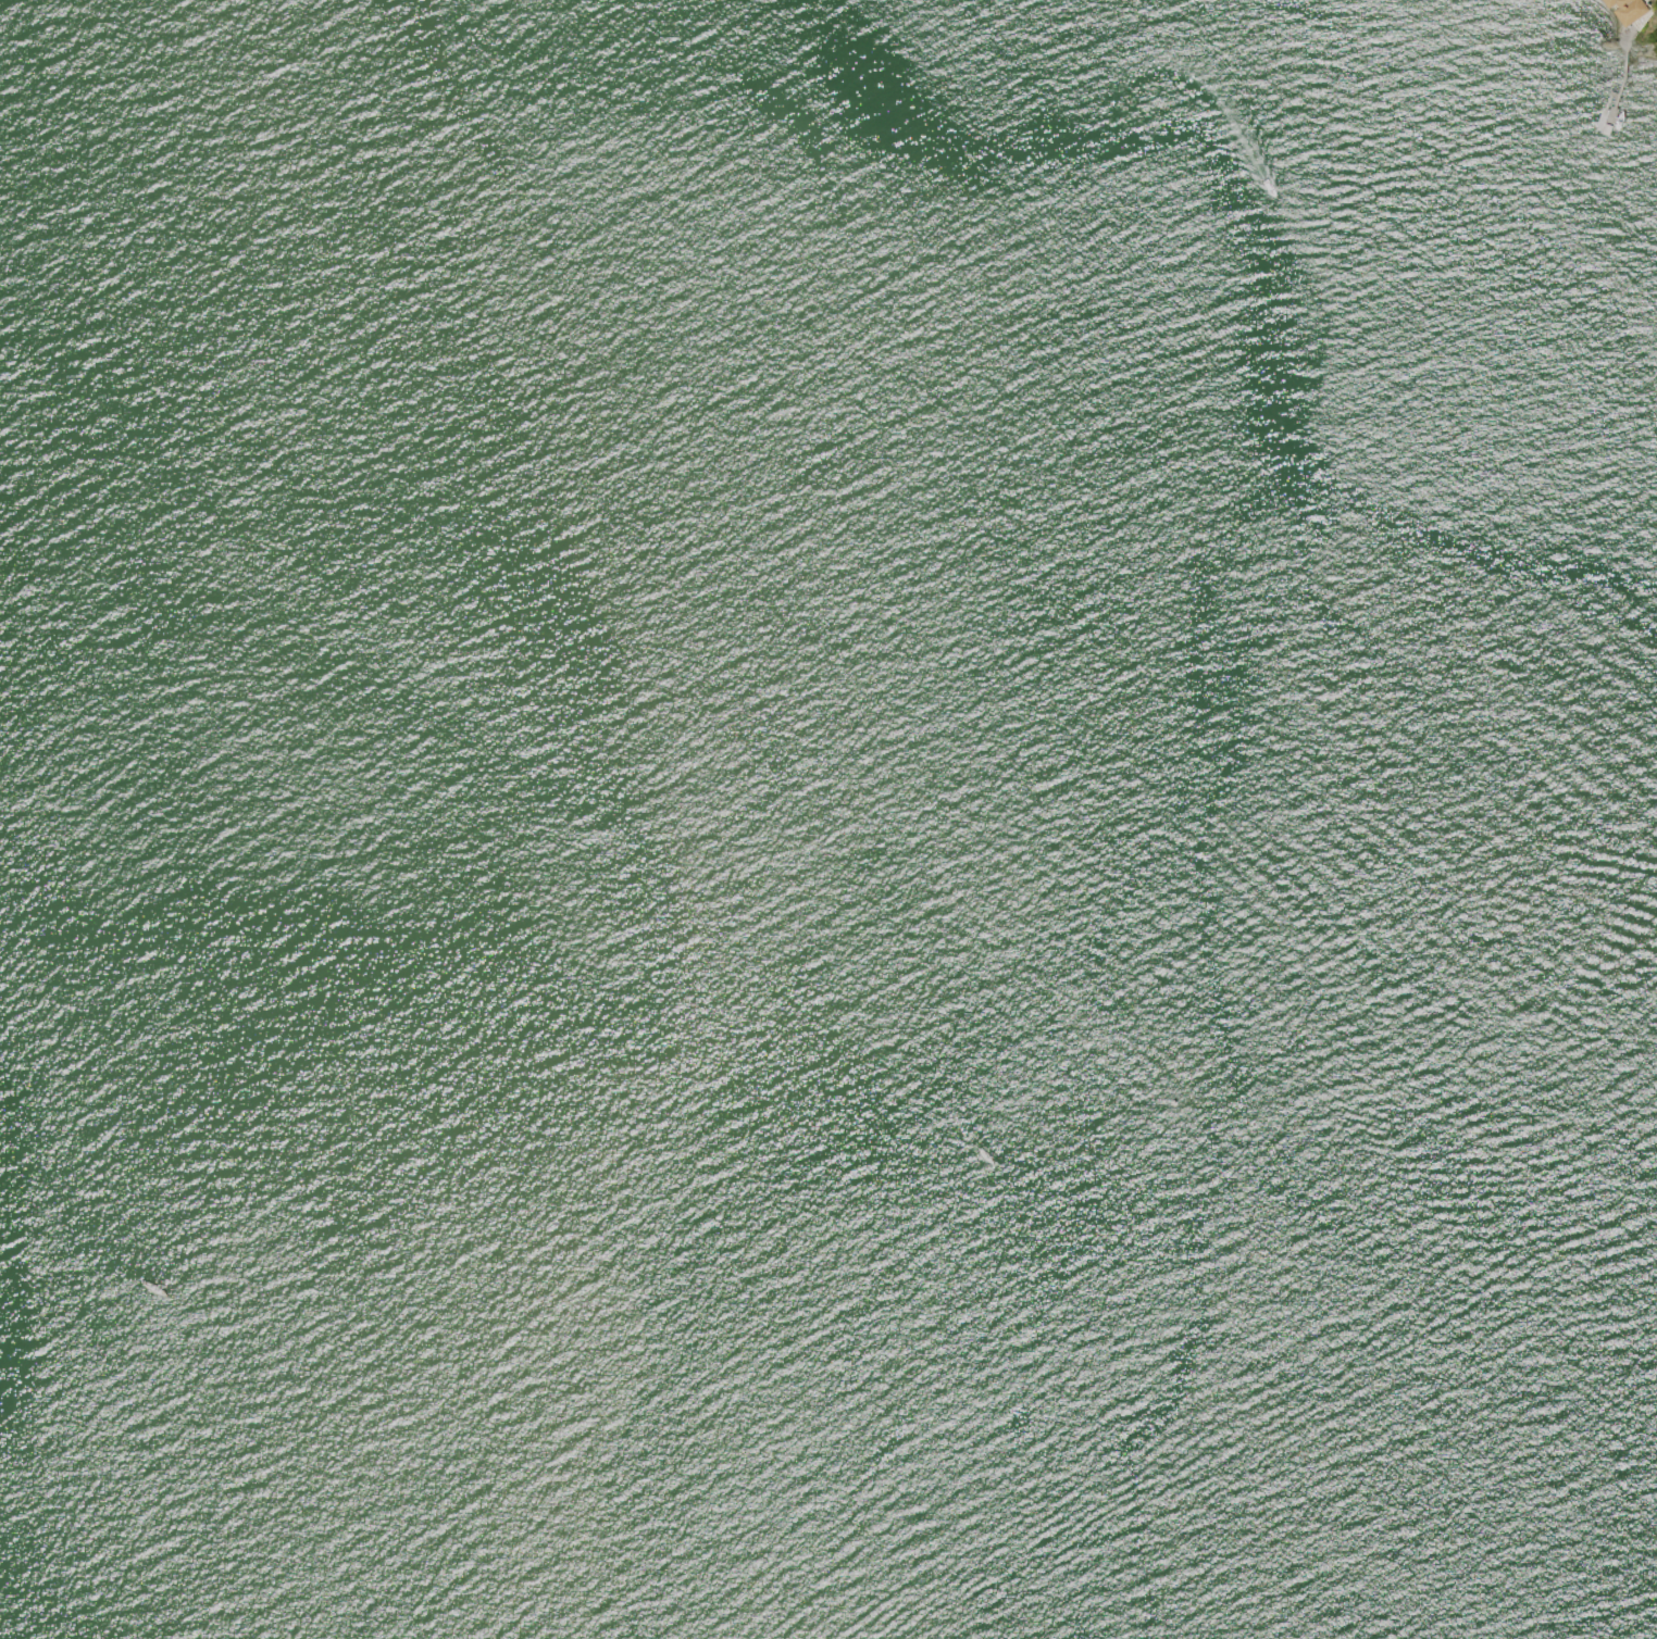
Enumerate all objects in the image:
building: (1624, 10)

